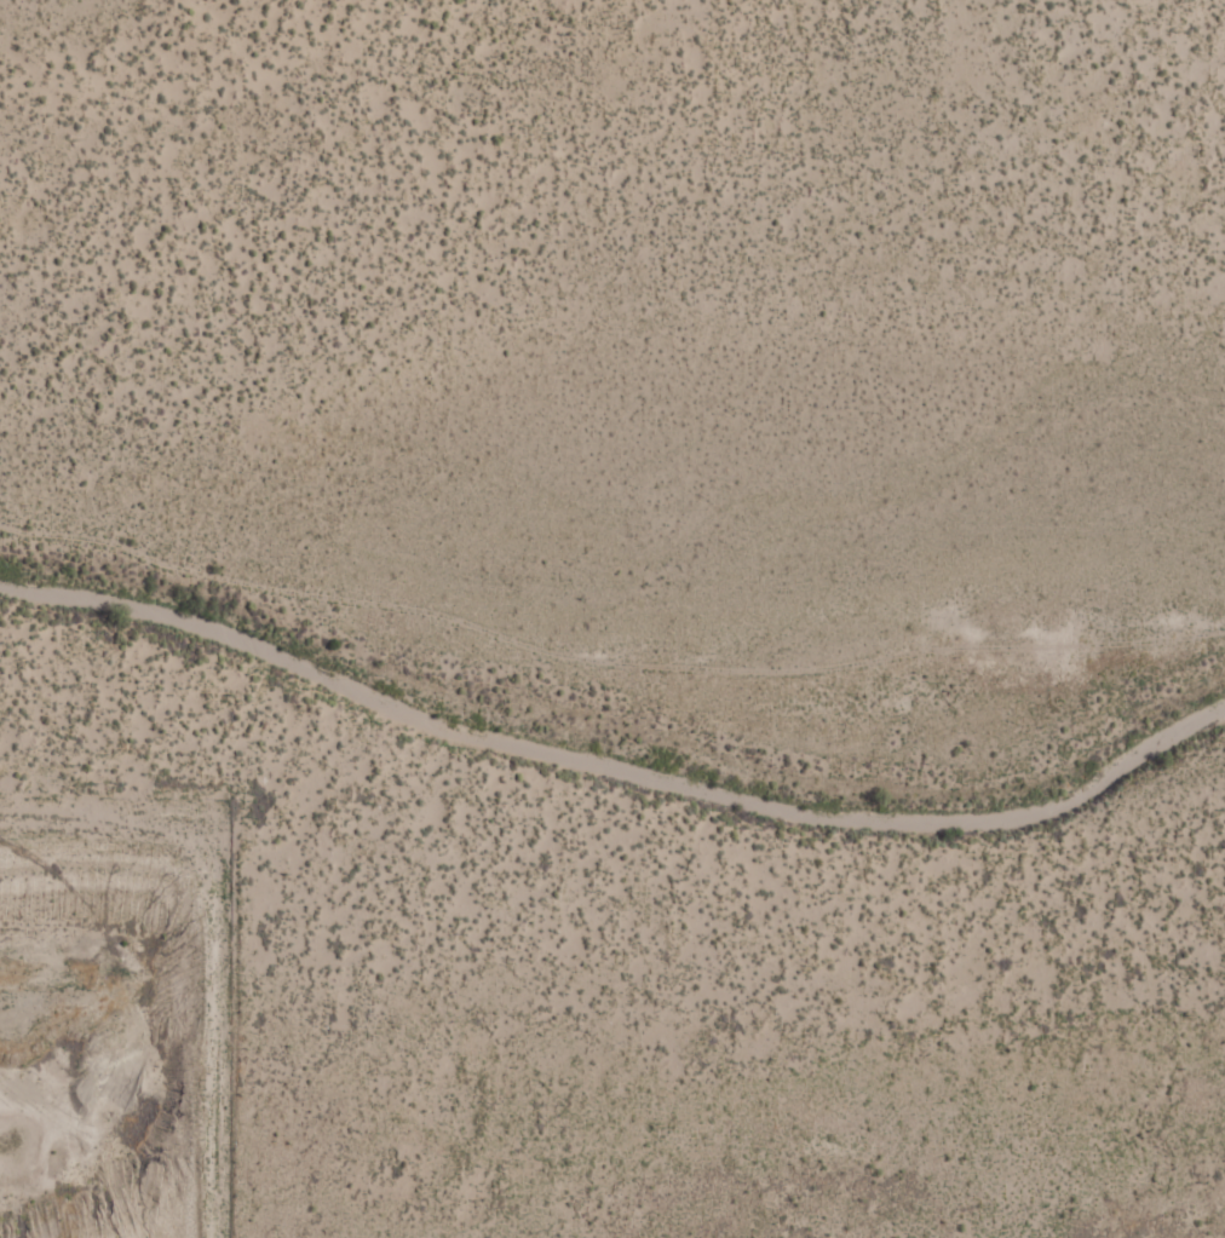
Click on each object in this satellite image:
river: (616, 749)

